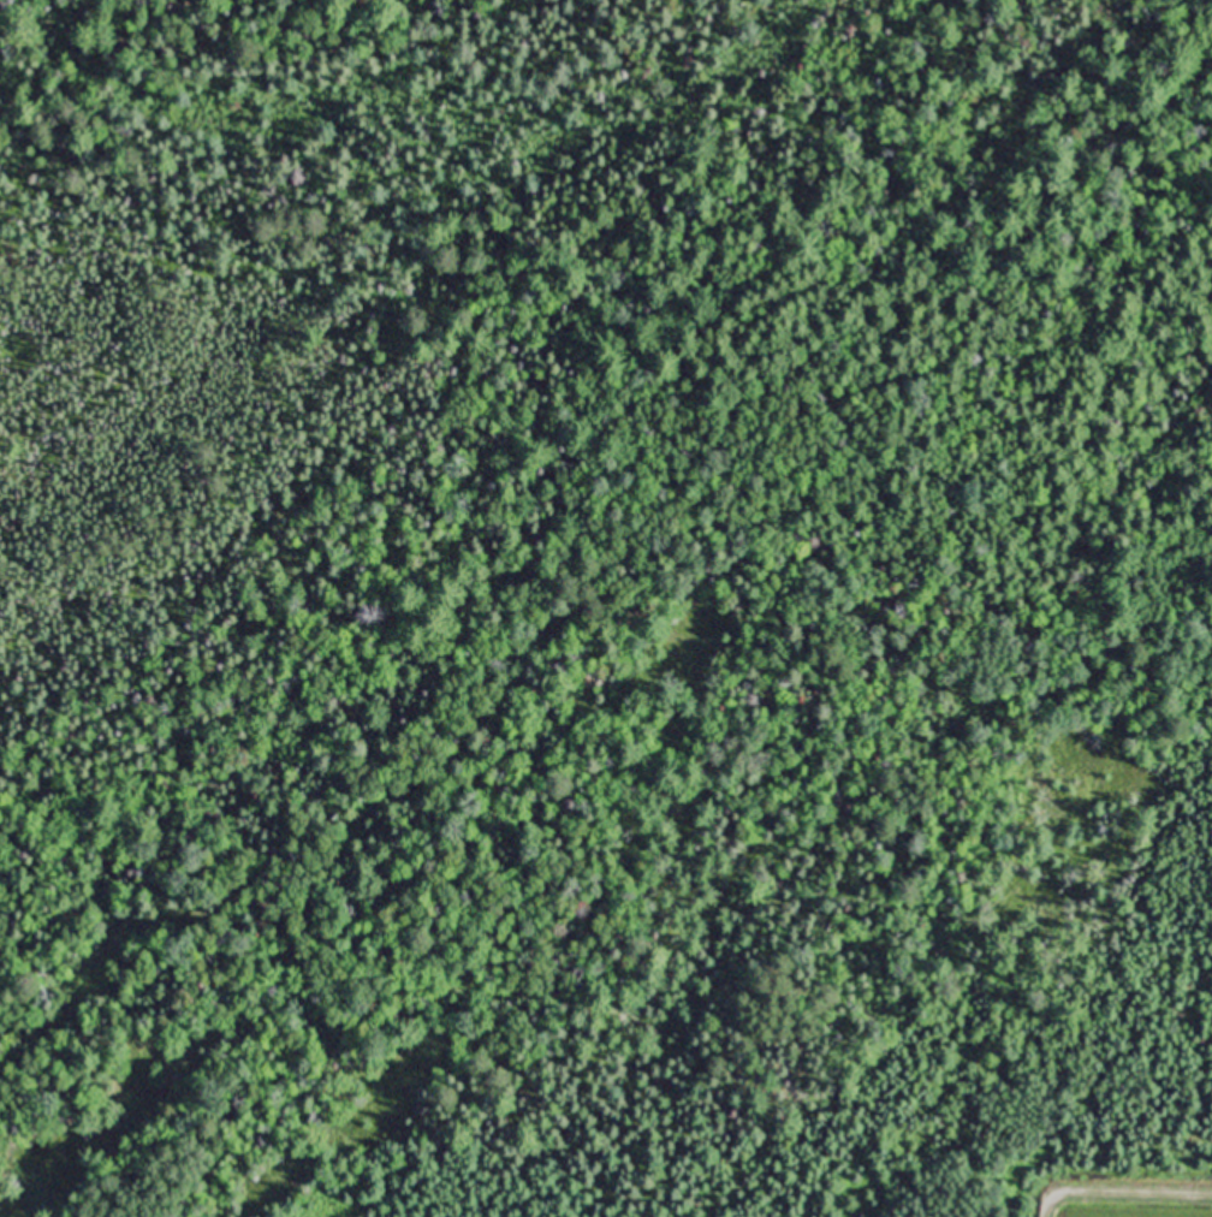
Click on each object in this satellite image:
crop: (1135, 1211)

